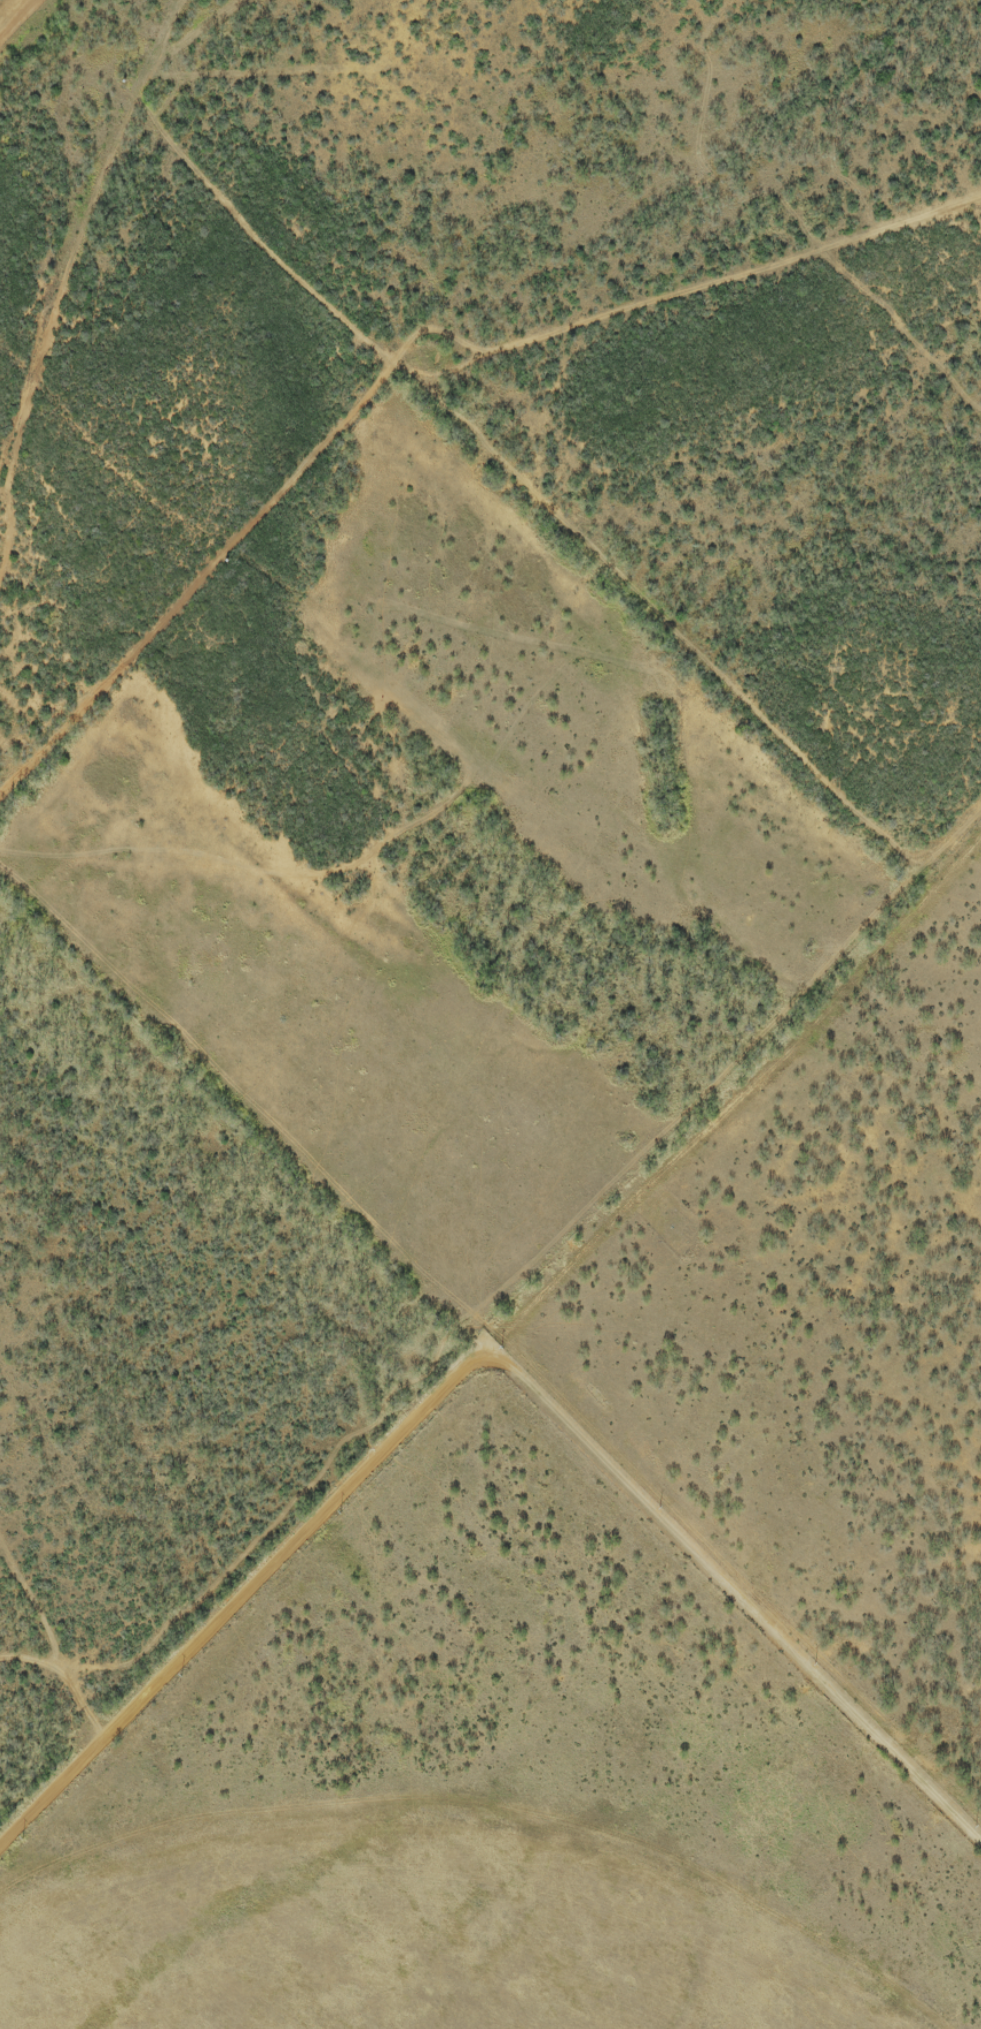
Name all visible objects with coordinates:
road: (7, 8)
road: (57, 248)
road: (735, 1124)
road: (511, 1372)
road: (49, 1764)

